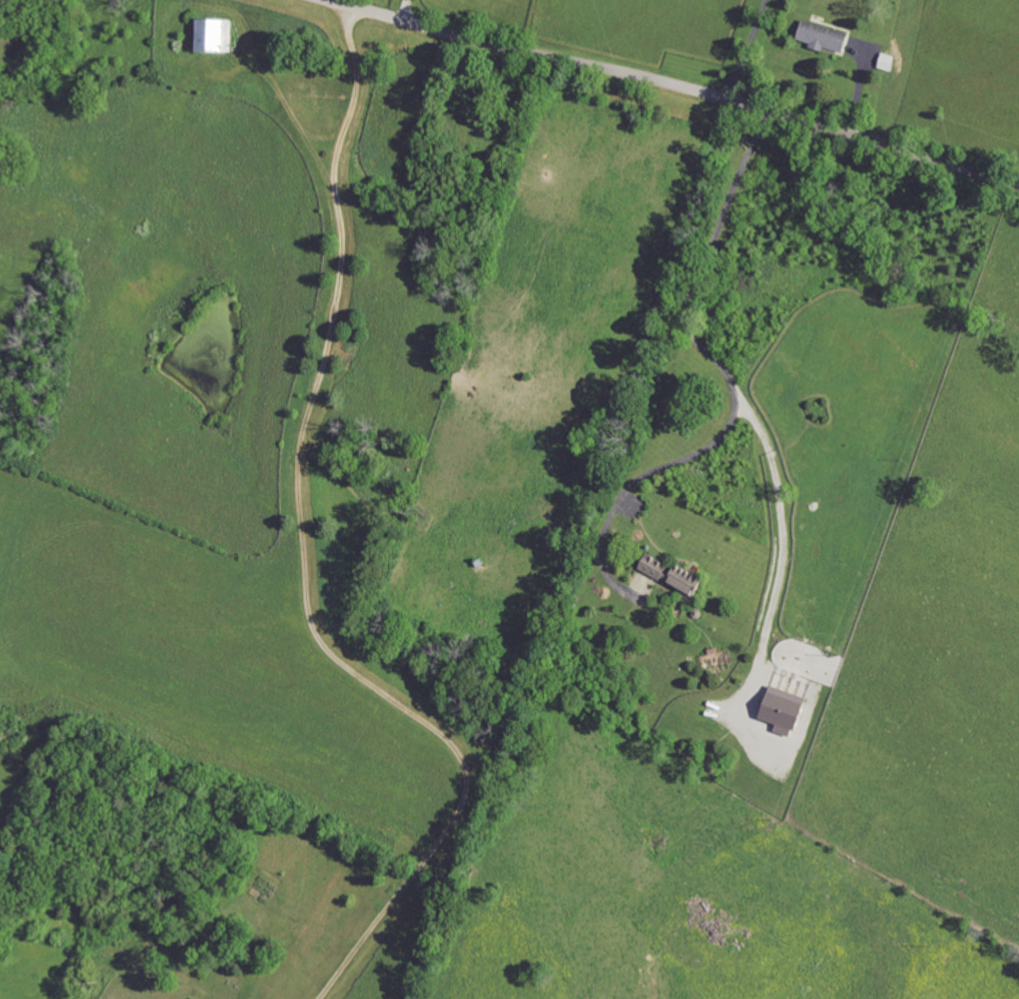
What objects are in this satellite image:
road: (405, 10)
building: (217, 34)
building: (823, 36)
road: (743, 49)
road: (674, 85)
road: (304, 555)
building: (674, 574)
building: (785, 708)

